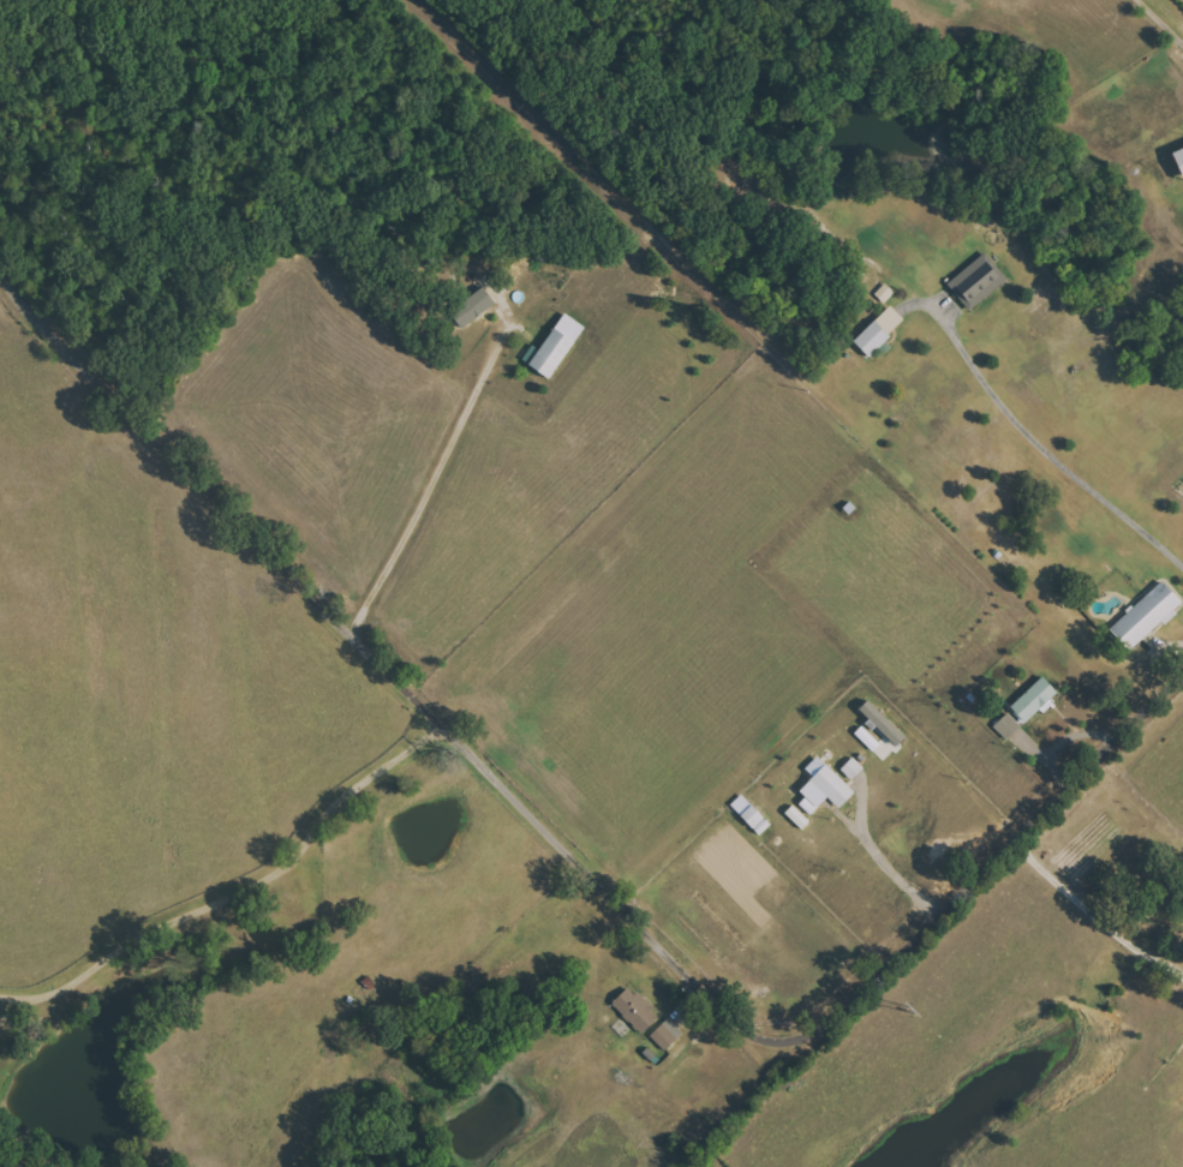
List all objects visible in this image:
road: (1163, 19)
building: (1178, 160)
building: (978, 281)
building: (885, 293)
building: (472, 307)
building: (879, 331)
building: (556, 347)
road: (454, 437)
road: (1052, 454)
building: (1145, 617)
building: (1034, 699)
building: (1008, 725)
building: (888, 729)
building: (852, 768)
building: (823, 788)
building: (796, 818)
road: (582, 861)
road: (884, 862)
road: (238, 890)
road: (1093, 914)
road: (17, 1006)
building: (634, 1010)
building: (665, 1035)

